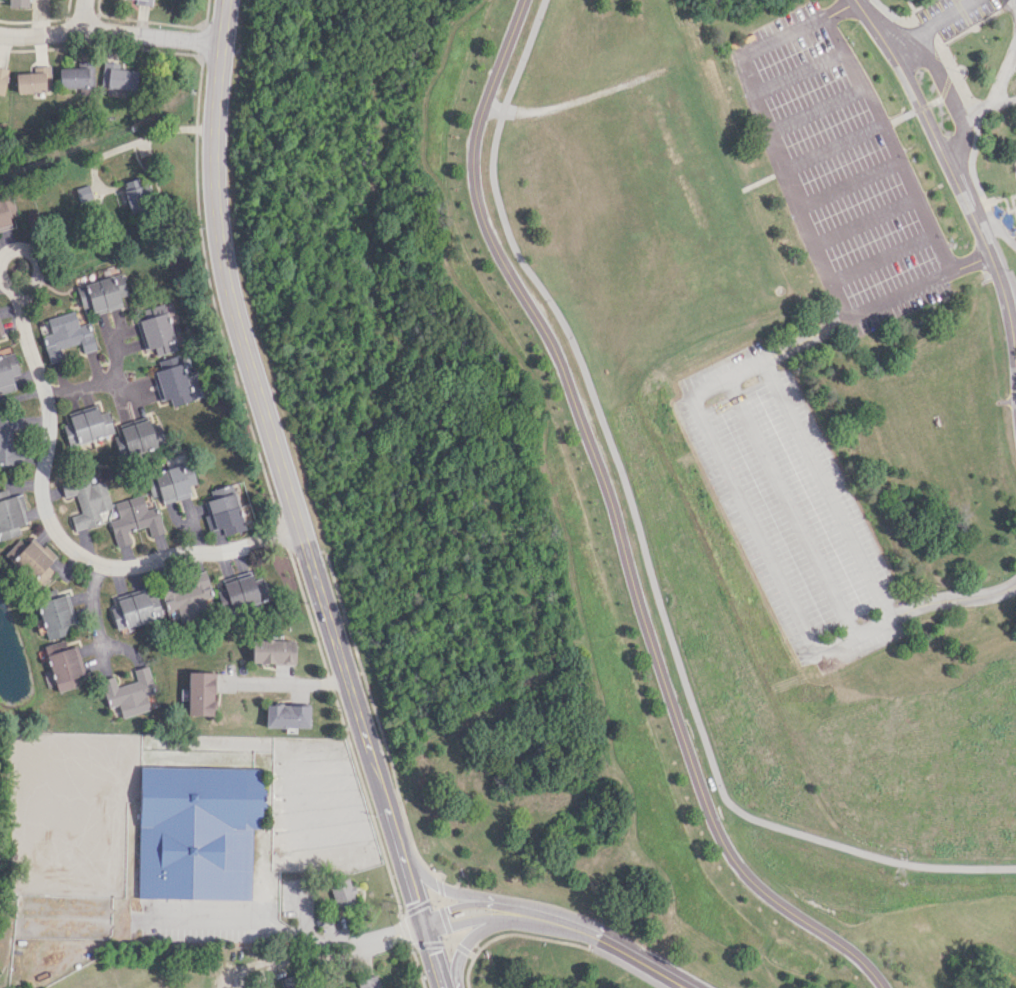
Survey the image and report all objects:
building: (17, 2)
building: (144, 2)
road: (890, 14)
road: (82, 15)
road: (928, 24)
road: (111, 30)
road: (921, 32)
building: (75, 76)
building: (117, 76)
building: (2, 79)
building: (33, 80)
road: (937, 97)
road: (574, 99)
road: (984, 100)
road: (884, 124)
road: (974, 131)
road: (886, 140)
parking lot: (835, 158)
road: (960, 187)
building: (139, 192)
building: (84, 193)
road: (800, 201)
building: (6, 211)
road: (982, 217)
road: (1005, 236)
road: (23, 252)
building: (102, 293)
building: (0, 332)
building: (157, 333)
building: (66, 335)
building: (9, 373)
road: (103, 379)
building: (172, 381)
road: (119, 384)
building: (194, 386)
road: (689, 394)
building: (91, 425)
building: (8, 435)
building: (139, 436)
park: (663, 463)
building: (172, 482)
road: (293, 500)
building: (88, 501)
road: (789, 506)
parking lot: (790, 506)
building: (223, 513)
building: (11, 516)
building: (133, 519)
road: (614, 520)
road: (639, 539)
road: (61, 540)
building: (34, 559)
building: (240, 590)
building: (187, 597)
road: (955, 598)
road: (90, 607)
building: (131, 610)
building: (54, 615)
road: (121, 648)
building: (272, 651)
building: (63, 665)
road: (283, 683)
building: (129, 692)
building: (200, 693)
building: (286, 715)
building: (197, 831)
building: (342, 892)
road: (469, 893)
road: (566, 922)
road: (291, 931)
road: (478, 935)
building: (370, 982)

